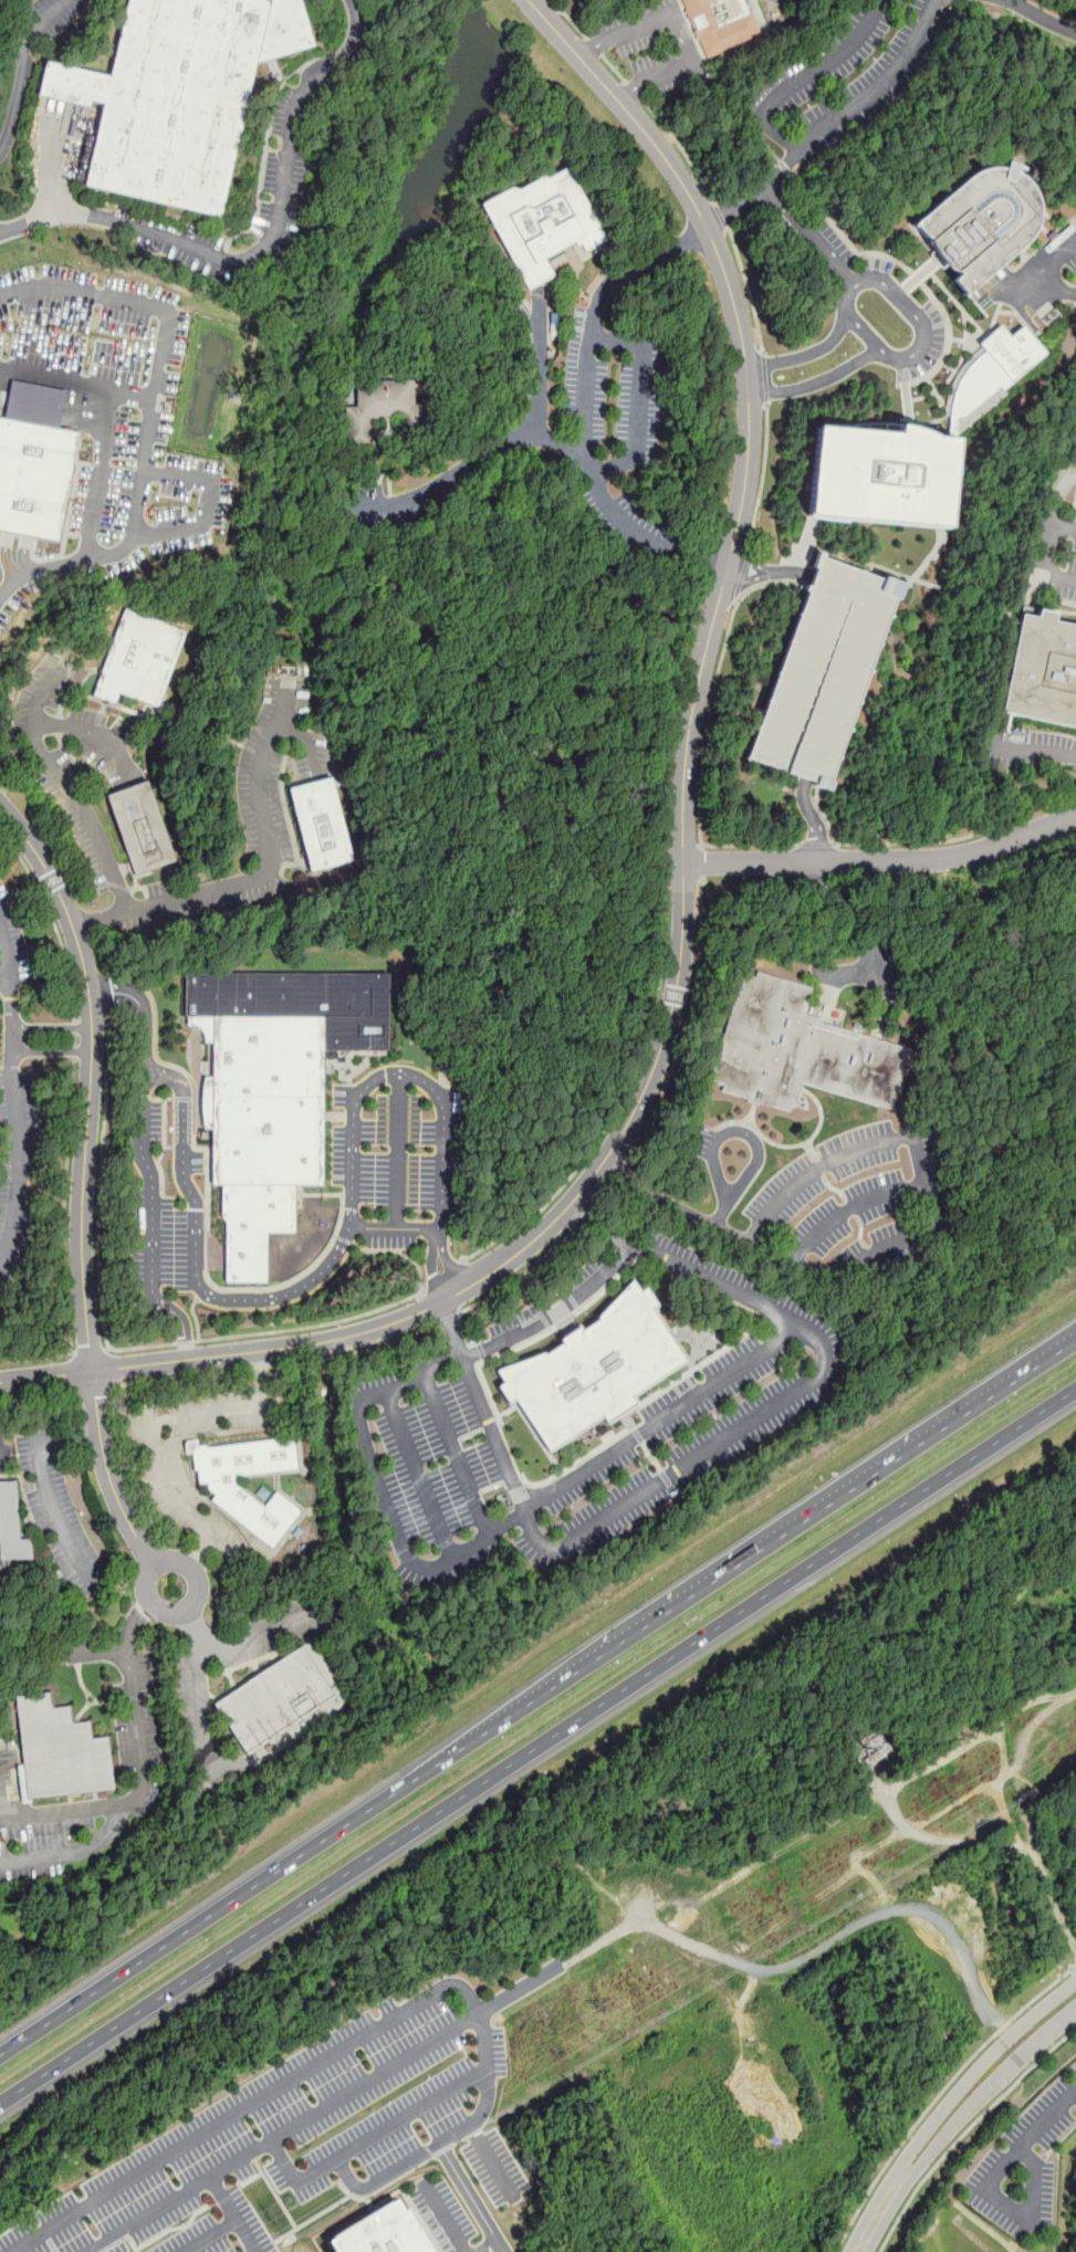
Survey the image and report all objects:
road: (550, 0)
road: (1037, 17)
road: (567, 18)
building: (720, 23)
road: (682, 27)
road: (594, 46)
road: (22, 67)
road: (613, 67)
road: (797, 78)
road: (875, 88)
road: (633, 91)
building: (190, 96)
road: (681, 150)
road: (753, 196)
road: (721, 217)
building: (544, 220)
building: (978, 223)
road: (811, 234)
road: (263, 247)
road: (1040, 266)
road: (748, 289)
road: (849, 310)
road: (595, 314)
road: (163, 338)
road: (808, 353)
road: (765, 377)
road: (818, 380)
road: (75, 383)
road: (639, 402)
building: (380, 407)
building: (909, 449)
road: (582, 461)
road: (100, 474)
road: (762, 475)
building: (33, 476)
road: (449, 485)
road: (148, 534)
road: (1046, 556)
road: (742, 574)
building: (139, 658)
building: (1042, 669)
building: (824, 670)
parking garage: (824, 670)
road: (713, 685)
road: (93, 732)
road: (309, 745)
road: (18, 751)
road: (1040, 753)
road: (69, 785)
road: (812, 818)
building: (320, 824)
building: (140, 827)
road: (882, 860)
road: (702, 863)
road: (261, 877)
road: (682, 883)
road: (843, 910)
road: (52, 920)
road: (3, 968)
road: (106, 992)
road: (153, 1006)
road: (74, 1026)
road: (685, 1026)
road: (51, 1027)
road: (74, 1039)
building: (798, 1049)
road: (51, 1051)
road: (74, 1051)
road: (400, 1075)
building: (274, 1086)
road: (13, 1092)
road: (612, 1111)
road: (915, 1146)
road: (398, 1150)
road: (145, 1158)
road: (614, 1176)
road: (85, 1181)
road: (731, 1193)
road: (597, 1196)
road: (63, 1205)
road: (850, 1208)
road: (582, 1214)
road: (393, 1225)
road: (771, 1251)
road: (197, 1259)
road: (447, 1259)
road: (432, 1265)
road: (520, 1275)
road: (442, 1276)
road: (555, 1312)
road: (195, 1317)
road: (446, 1319)
road: (464, 1334)
road: (150, 1345)
road: (88, 1350)
road: (357, 1353)
road: (257, 1366)
building: (593, 1366)
road: (175, 1376)
road: (93, 1389)
road: (36, 1393)
road: (679, 1405)
road: (150, 1420)
road: (2, 1452)
road: (459, 1457)
road: (689, 1462)
road: (422, 1479)
road: (45, 1487)
building: (230, 1492)
road: (383, 1494)
building: (10, 1528)
road: (1064, 1549)
road: (738, 1562)
road: (1005, 1571)
road: (145, 1599)
road: (258, 1635)
road: (992, 1637)
road: (92, 1651)
road: (1001, 1665)
road: (895, 1667)
building: (272, 1698)
building: (875, 1740)
road: (537, 1745)
building: (60, 1750)
building: (871, 1759)
road: (211, 1761)
road: (142, 1768)
road: (879, 1795)
power tower: (952, 1809)
road: (682, 1823)
road: (535, 1830)
road: (905, 1831)
road: (932, 1839)
road: (71, 1850)
road: (501, 1884)
road: (877, 1890)
road: (200, 1919)
road: (834, 1937)
road: (1074, 1966)
road: (753, 1990)
road: (727, 1993)
road: (311, 2065)
road: (967, 2078)
road: (938, 2096)
road: (974, 2099)
road: (1049, 2122)
road: (965, 2130)
road: (282, 2131)
parking lot: (326, 2131)
road: (370, 2139)
road: (491, 2160)
parking lot: (1034, 2167)
road: (385, 2175)
road: (470, 2197)
road: (1011, 2209)
road: (233, 2212)
road: (445, 2218)
power tower: (272, 2220)
road: (18, 2221)
road: (869, 2225)
building: (383, 2232)
road: (208, 2234)
road: (487, 2246)

